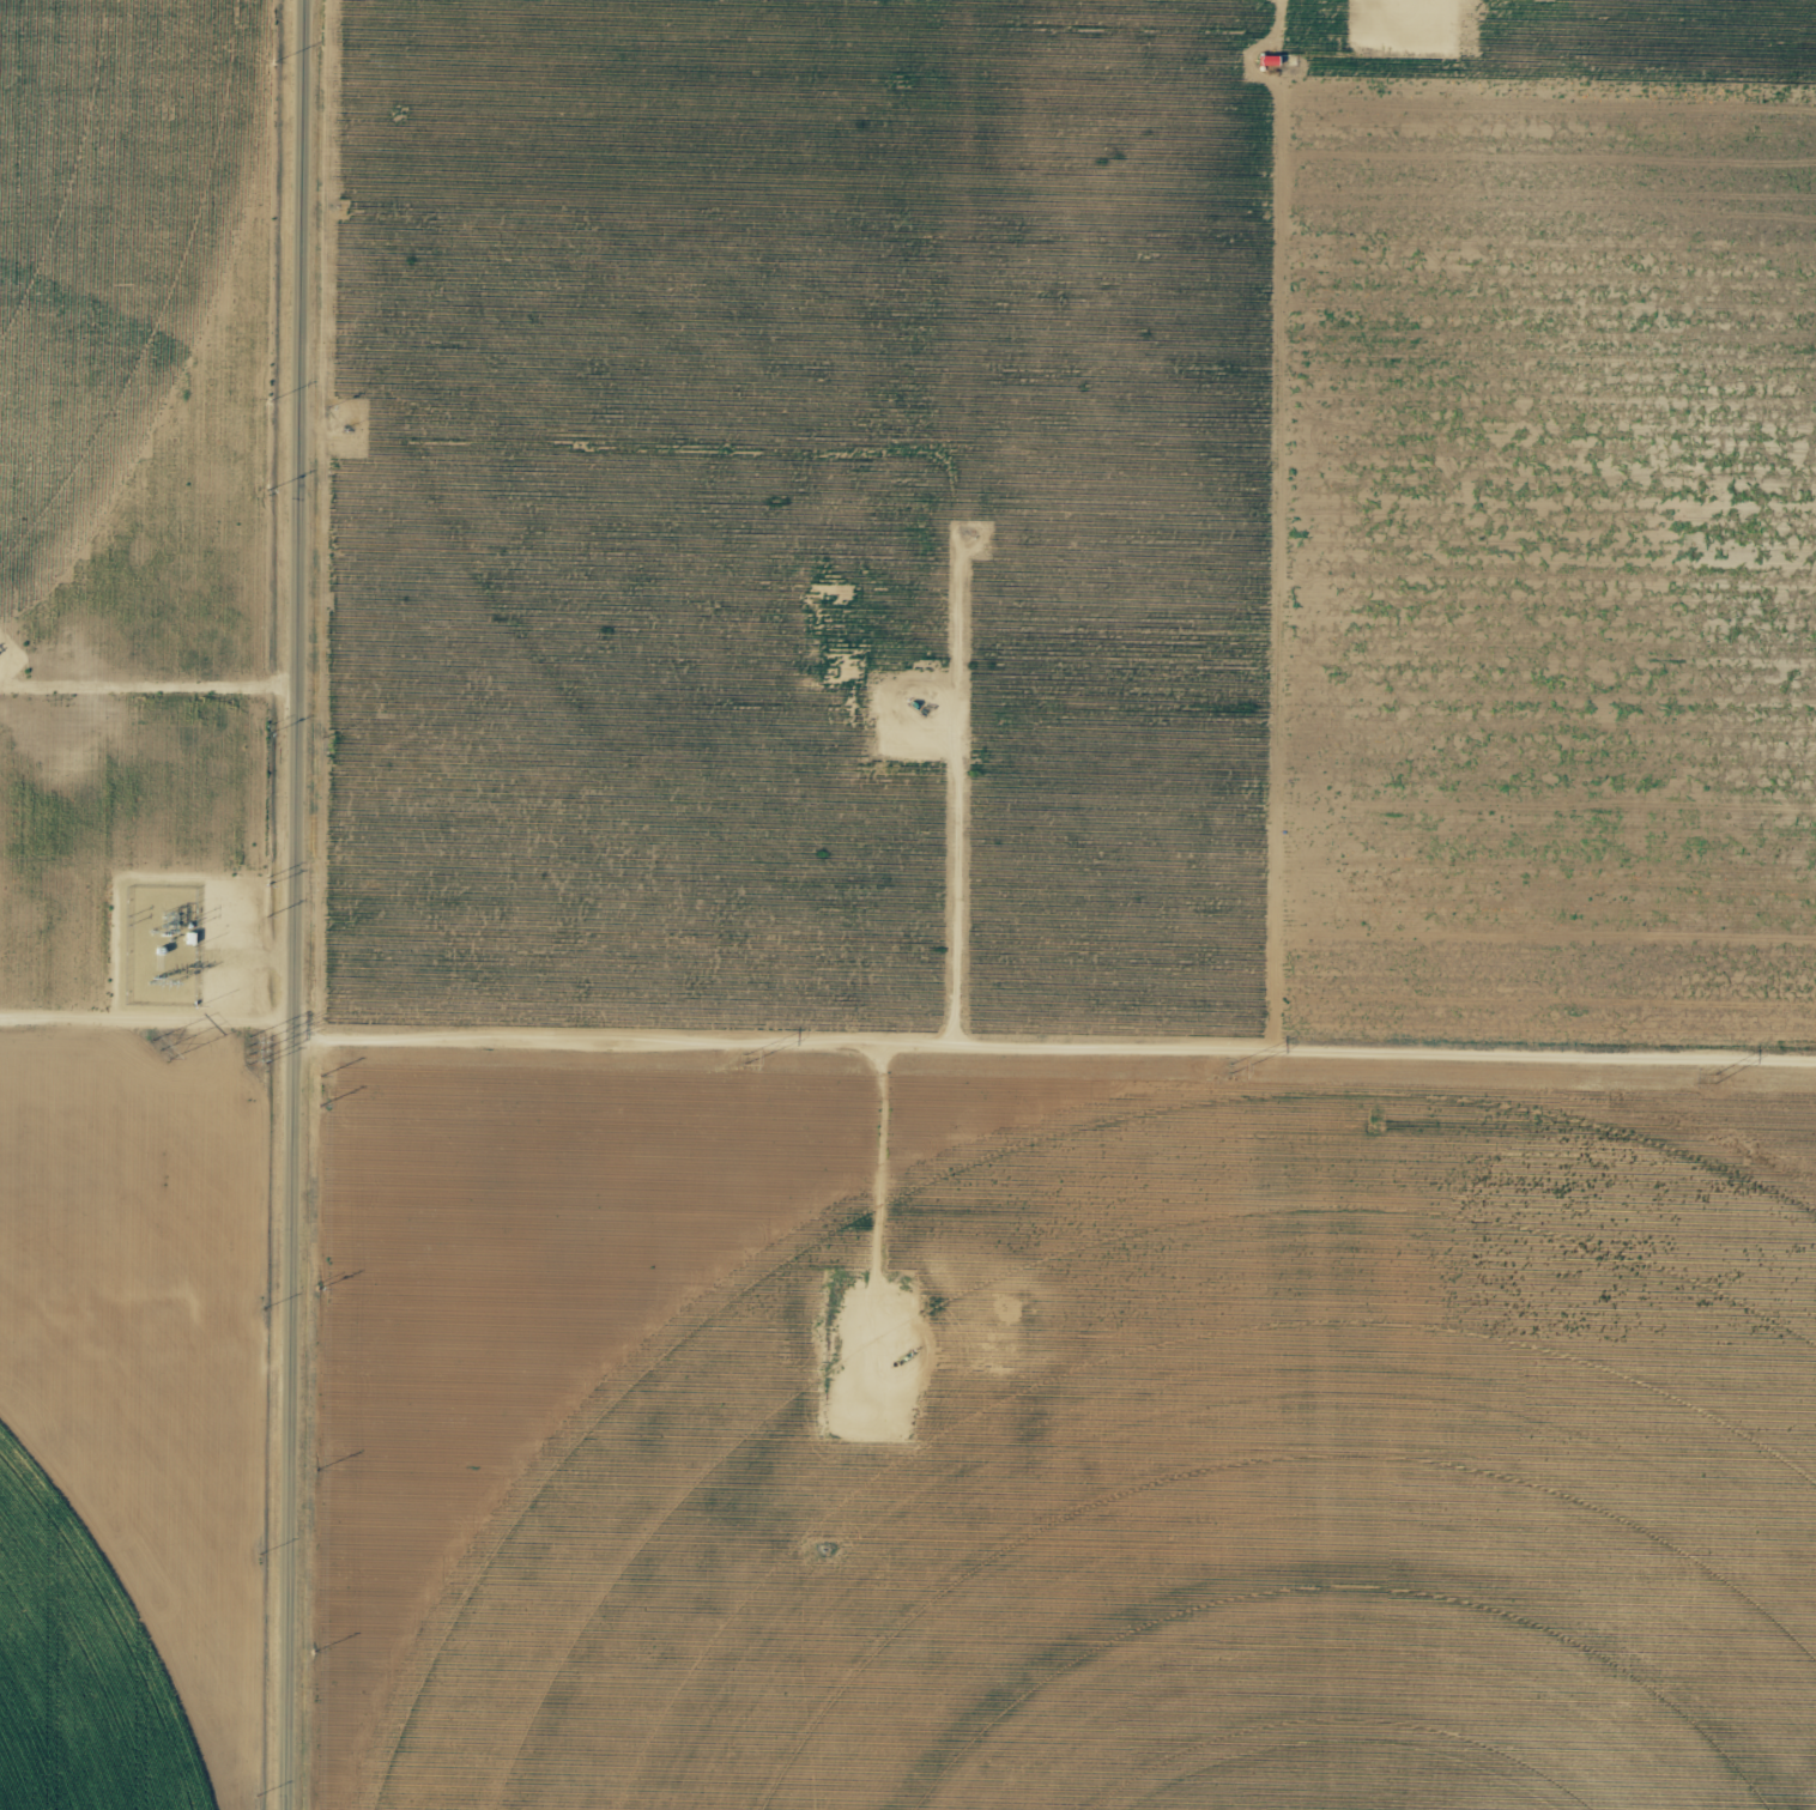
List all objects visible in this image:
road: (948, 531)
road: (292, 904)
road: (907, 1061)

